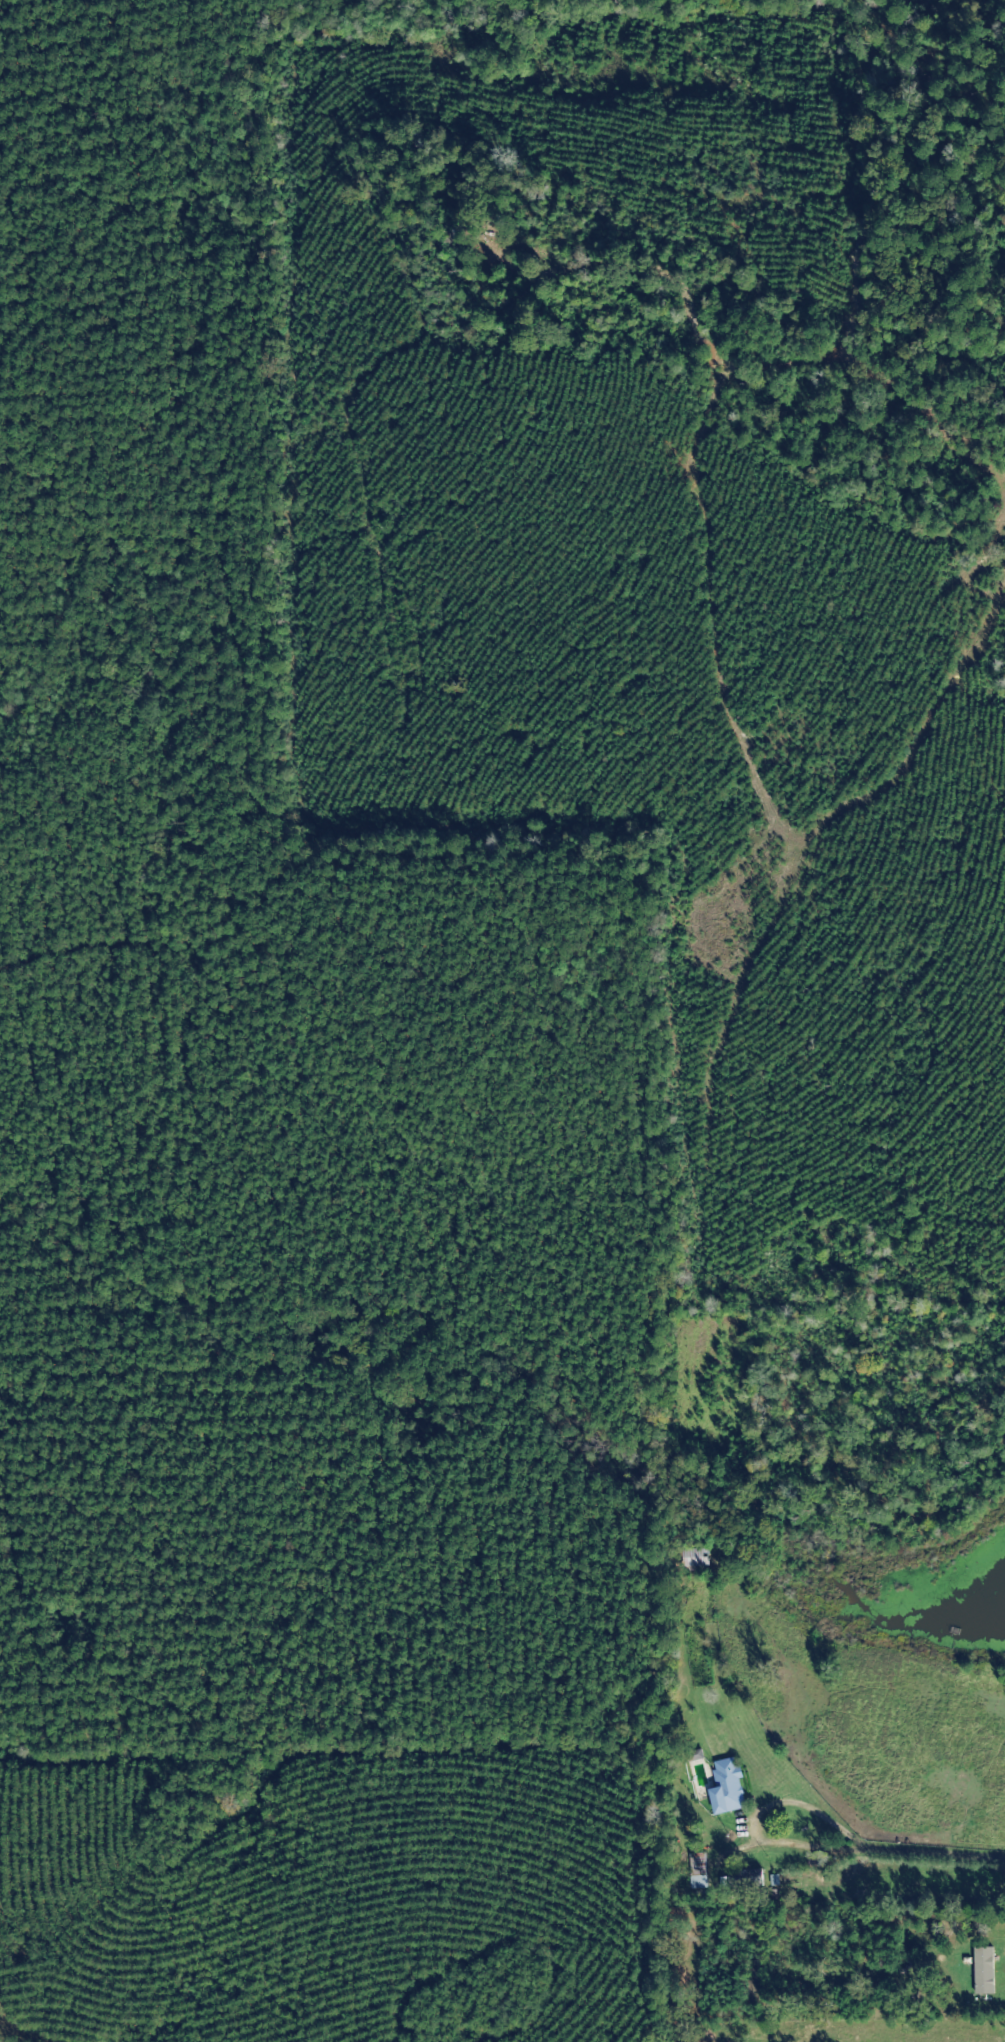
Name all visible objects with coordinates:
road: (203, 798)
building: (689, 1557)
building: (723, 1786)
road: (880, 1850)
road: (910, 1935)

